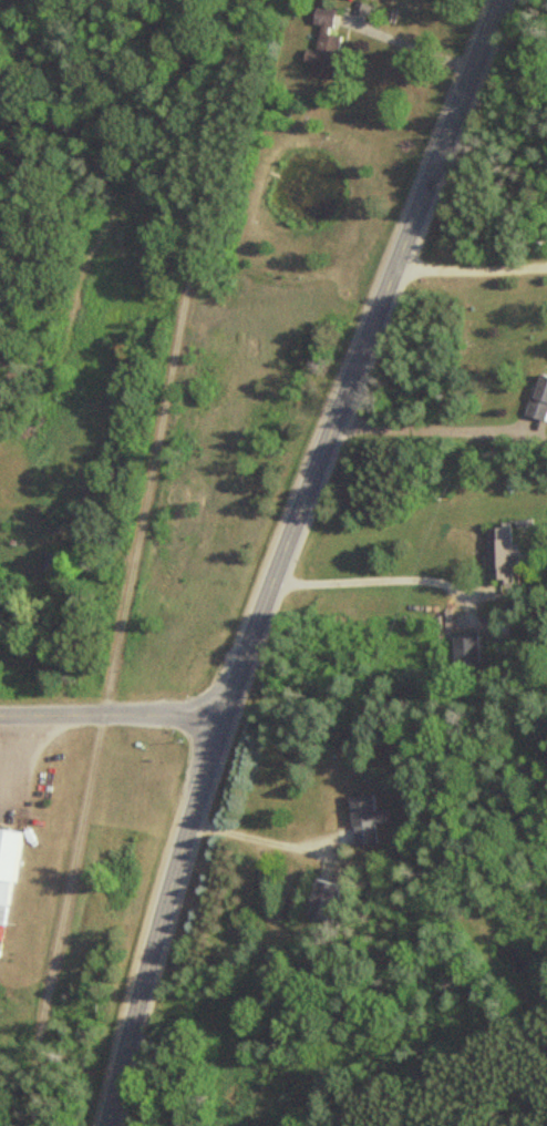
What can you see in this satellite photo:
road: (409, 43)
building: (320, 45)
road: (468, 273)
building: (537, 400)
road: (427, 434)
road: (279, 555)
road: (131, 563)
road: (375, 565)
road: (111, 715)
building: (362, 819)
road: (264, 838)
building: (7, 867)
building: (320, 900)

